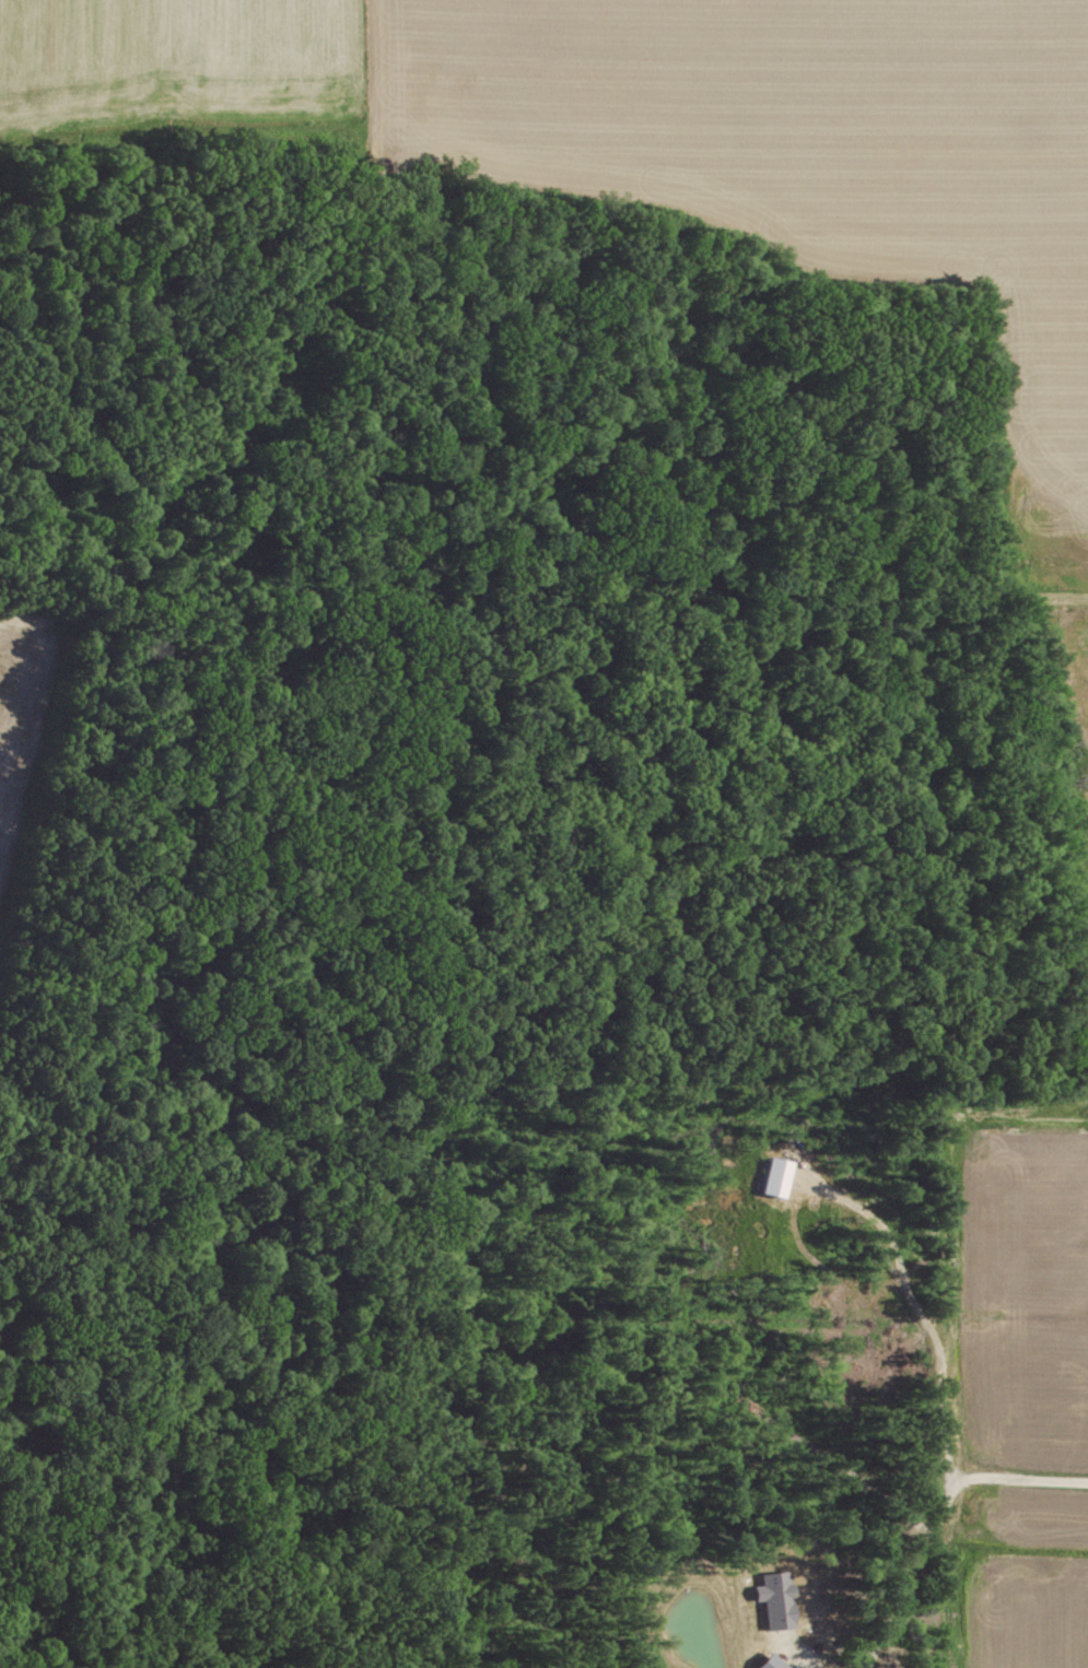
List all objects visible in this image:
building: (776, 1177)
road: (923, 1312)
road: (936, 1517)
building: (776, 1600)
building: (771, 1663)

